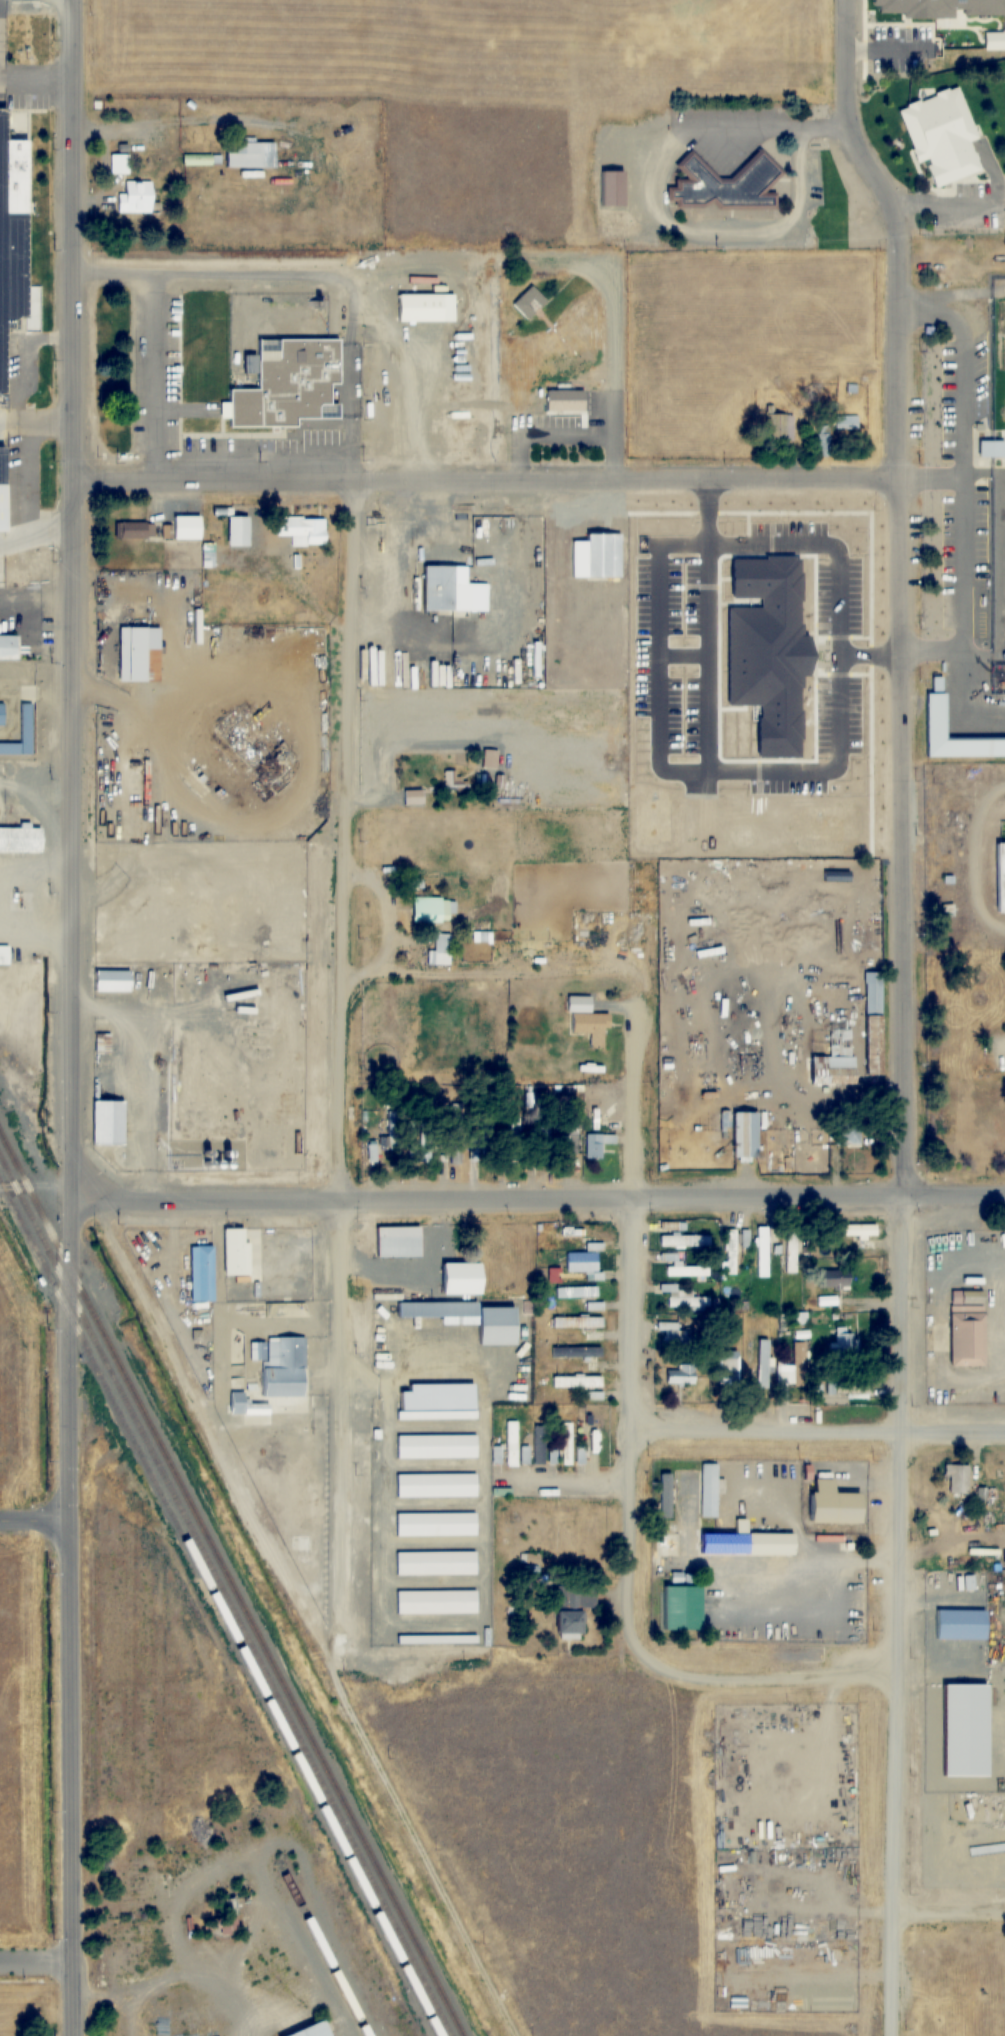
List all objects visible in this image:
building: (994, 41)
building: (115, 105)
road: (852, 122)
building: (940, 138)
building: (246, 155)
building: (120, 158)
building: (253, 182)
building: (727, 186)
building: (615, 187)
building: (136, 199)
building: (16, 238)
building: (528, 303)
building: (426, 307)
building: (292, 381)
road: (961, 403)
building: (847, 423)
building: (784, 426)
building: (824, 441)
building: (991, 449)
road: (484, 479)
building: (2, 485)
building: (184, 526)
building: (127, 528)
building: (238, 529)
building: (302, 529)
building: (598, 556)
building: (452, 589)
road: (963, 600)
building: (8, 646)
building: (136, 654)
building: (2, 713)
building: (932, 716)
building: (28, 726)
building: (9, 747)
building: (453, 782)
building: (413, 797)
building: (21, 839)
building: (999, 878)
building: (432, 910)
building: (441, 948)
building: (4, 954)
building: (113, 980)
road: (335, 1016)
road: (71, 1018)
building: (587, 1020)
building: (875, 1023)
building: (837, 1058)
building: (601, 1110)
building: (109, 1123)
building: (395, 1130)
building: (424, 1133)
building: (747, 1135)
building: (851, 1135)
road: (903, 1136)
building: (544, 1141)
building: (597, 1145)
building: (478, 1147)
building: (453, 1151)
building: (520, 1155)
road: (502, 1190)
building: (572, 1232)
building: (762, 1234)
building: (747, 1237)
building: (683, 1239)
building: (397, 1240)
building: (446, 1243)
building: (966, 1248)
building: (730, 1251)
building: (790, 1251)
building: (235, 1252)
building: (585, 1259)
building: (681, 1267)
building: (202, 1271)
building: (463, 1278)
building: (836, 1278)
building: (576, 1292)
building: (682, 1297)
building: (594, 1308)
building: (436, 1309)
building: (798, 1318)
building: (577, 1322)
building: (969, 1335)
building: (590, 1336)
building: (680, 1337)
road: (627, 1341)
building: (766, 1346)
building: (843, 1346)
building: (577, 1352)
building: (281, 1364)
building: (728, 1367)
building: (798, 1367)
building: (681, 1374)
building: (577, 1380)
building: (593, 1395)
building: (243, 1401)
building: (438, 1413)
road: (405, 1423)
road: (815, 1430)
building: (561, 1442)
building: (593, 1443)
building: (435, 1445)
building: (507, 1445)
building: (535, 1446)
building: (958, 1478)
road: (562, 1480)
building: (438, 1484)
building: (711, 1487)
building: (666, 1495)
building: (838, 1503)
road: (33, 1520)
building: (435, 1522)
building: (747, 1540)
building: (437, 1562)
railway: (231, 1585)
building: (577, 1596)
railway: (225, 1597)
building: (437, 1600)
building: (682, 1606)
railway: (219, 1608)
crop: (34, 1611)
building: (570, 1624)
road: (462, 1625)
building: (962, 1625)
building: (438, 1642)
road: (770, 1675)
building: (765, 1769)
building: (954, 1855)
road: (948, 1902)
building: (225, 1918)
railway: (323, 1951)
building: (317, 2030)

